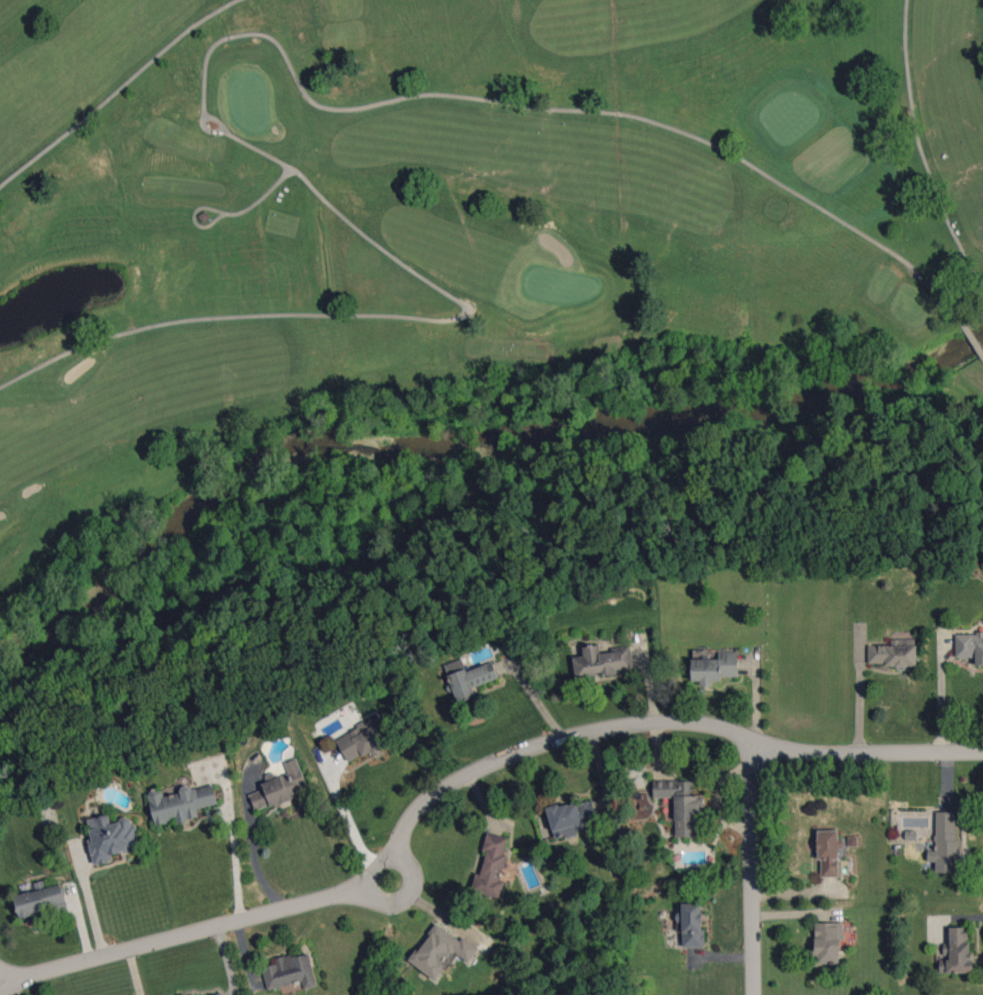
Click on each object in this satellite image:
park: (249, 102)
road: (226, 213)
park: (465, 250)
park: (558, 285)
river: (465, 433)
building: (970, 646)
building: (894, 653)
building: (603, 661)
building: (715, 668)
building: (468, 678)
road: (949, 703)
building: (363, 740)
road: (471, 775)
building: (279, 787)
building: (181, 803)
building: (682, 804)
road: (346, 815)
building: (573, 817)
building: (111, 838)
building: (853, 841)
building: (945, 843)
building: (829, 853)
road: (255, 861)
building: (492, 864)
road: (237, 865)
road: (754, 867)
building: (40, 901)
road: (89, 904)
building: (692, 924)
building: (828, 942)
building: (441, 951)
building: (290, 972)
road: (7, 981)
building: (215, 993)

